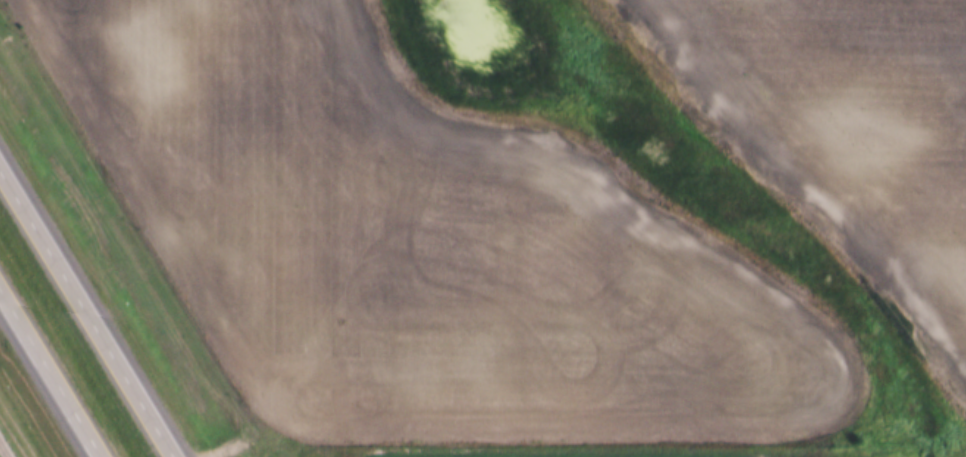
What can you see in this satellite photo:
road: (87, 313)
road: (50, 372)
railway: (3, 451)

